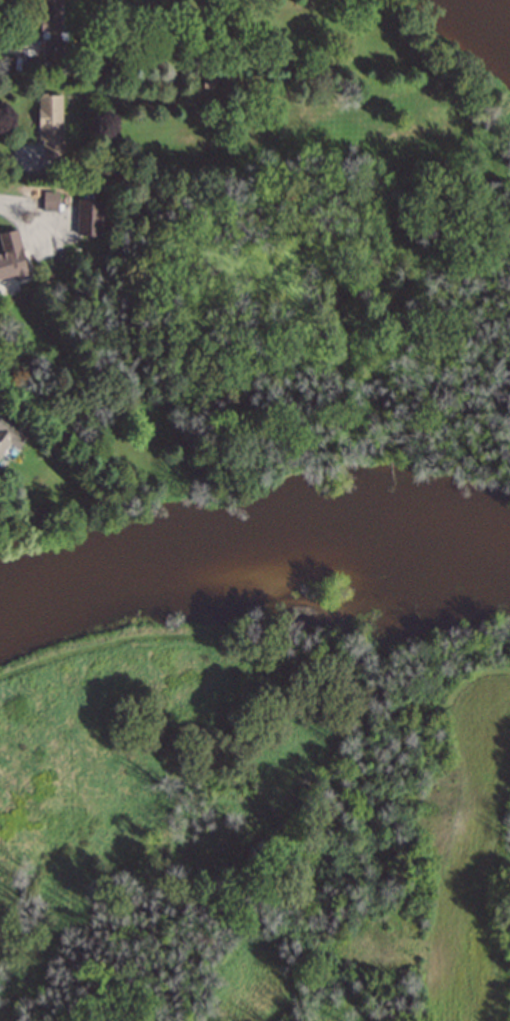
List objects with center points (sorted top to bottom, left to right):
building: (51, 30)
road: (6, 50)
building: (50, 128)
road: (6, 160)
road: (11, 204)
building: (88, 219)
building: (11, 257)
building: (10, 436)
river: (251, 547)

